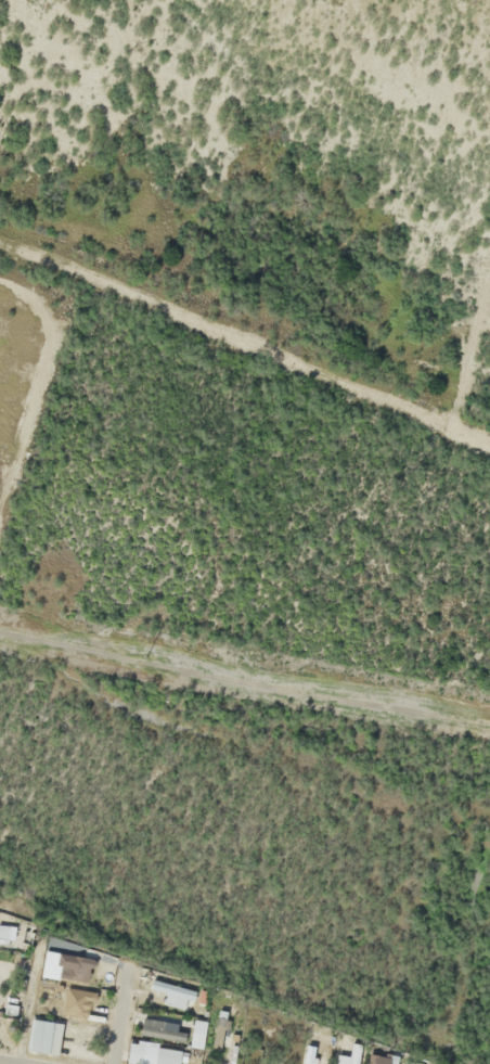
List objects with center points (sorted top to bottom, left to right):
building: (78, 969)
building: (172, 992)
road: (119, 1023)
building: (43, 1037)
building: (159, 1054)
building: (350, 1054)
road: (15, 1061)

